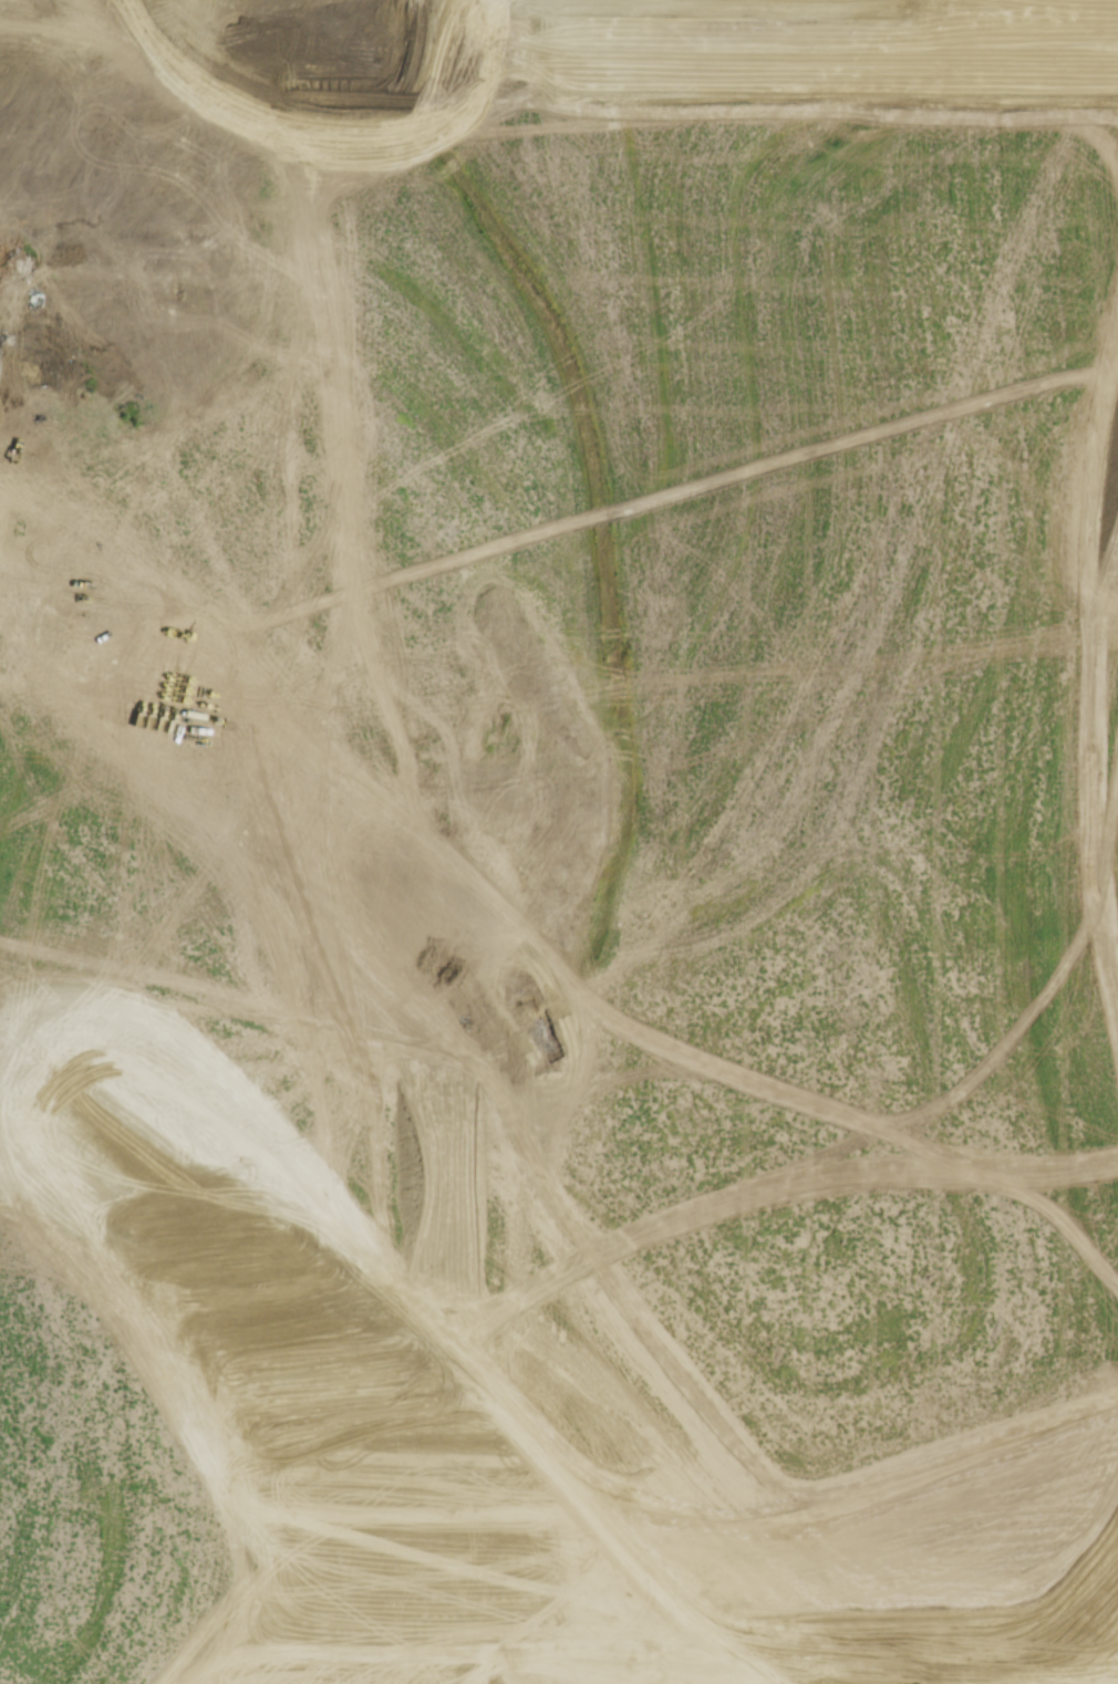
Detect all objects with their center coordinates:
building: (45, 371)

